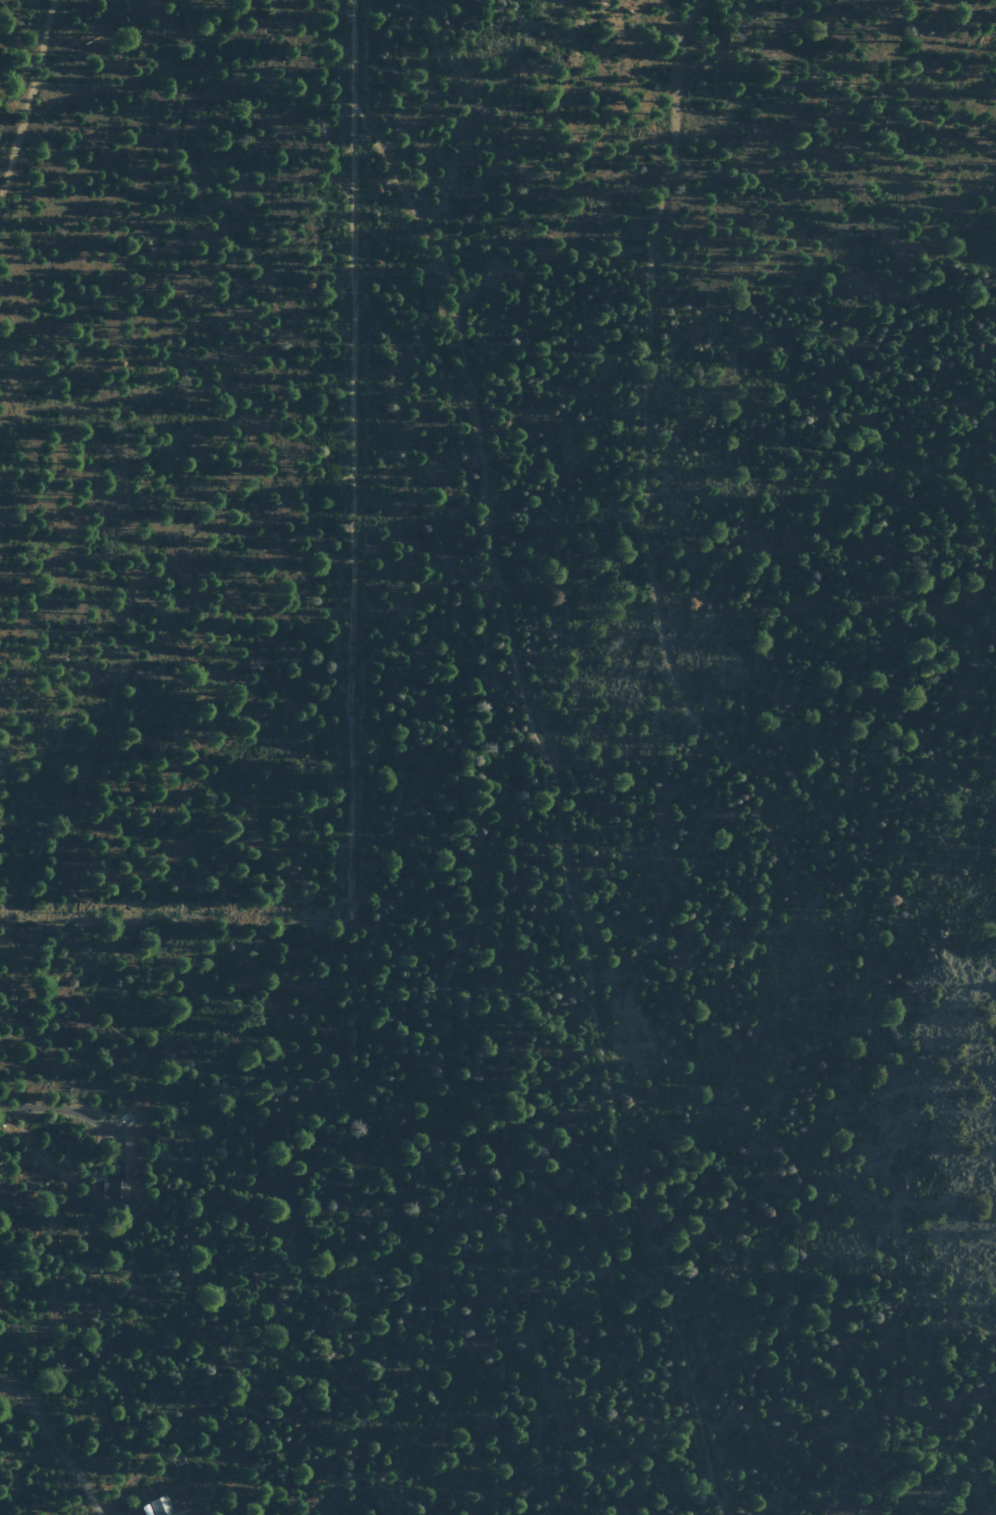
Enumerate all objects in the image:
road: (28, 96)
road: (637, 411)
road: (346, 619)
road: (554, 802)
road: (438, 1063)
building: (115, 1192)

